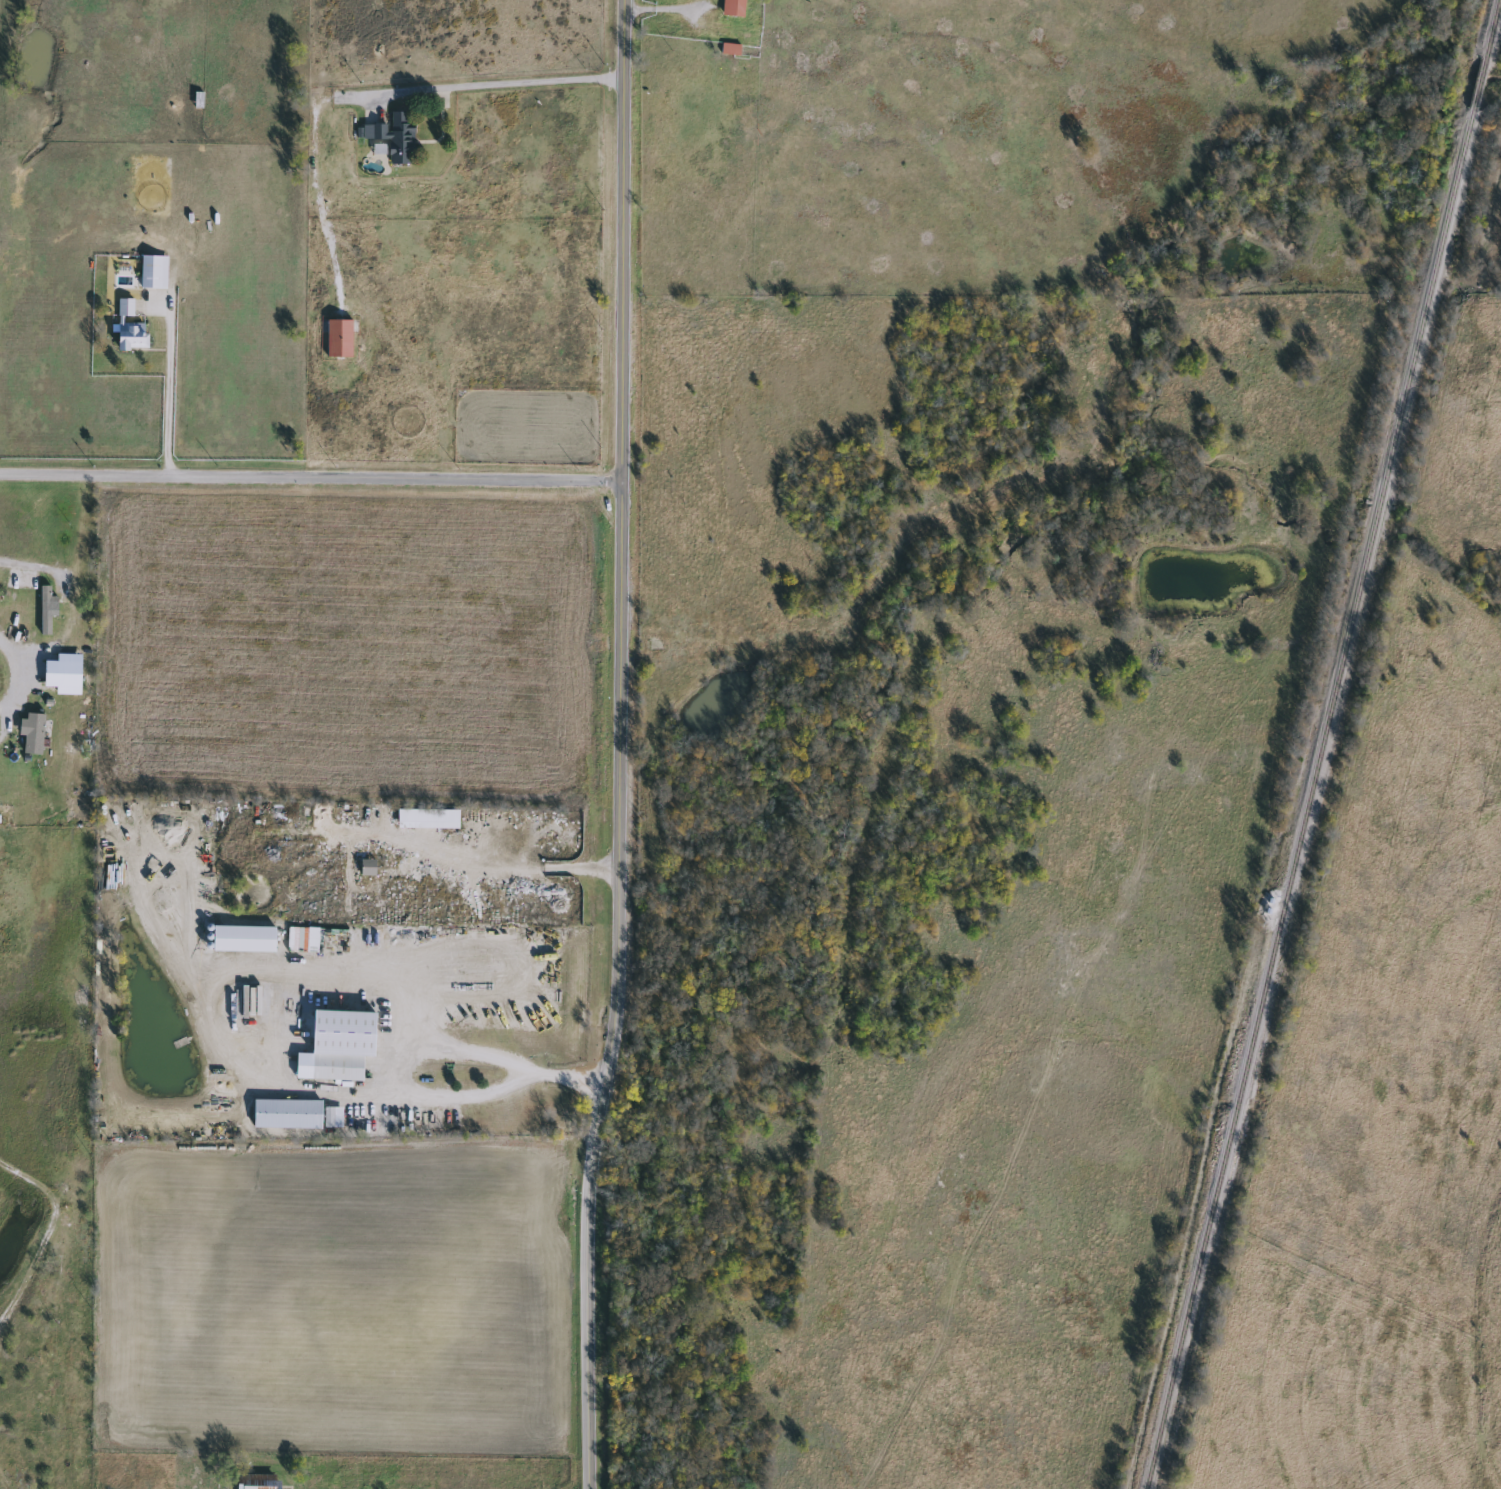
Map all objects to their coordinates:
building: (732, 8)
railway: (1492, 30)
building: (729, 49)
railway: (1479, 85)
road: (505, 88)
building: (395, 139)
building: (378, 151)
building: (152, 272)
building: (125, 307)
building: (130, 336)
building: (338, 338)
road: (167, 393)
road: (309, 477)
building: (44, 608)
building: (31, 732)
road: (614, 745)
railway: (1310, 799)
building: (427, 818)
building: (366, 867)
road: (517, 869)
road: (219, 1044)
road: (475, 1052)
building: (333, 1062)
building: (285, 1114)
building: (256, 1482)

